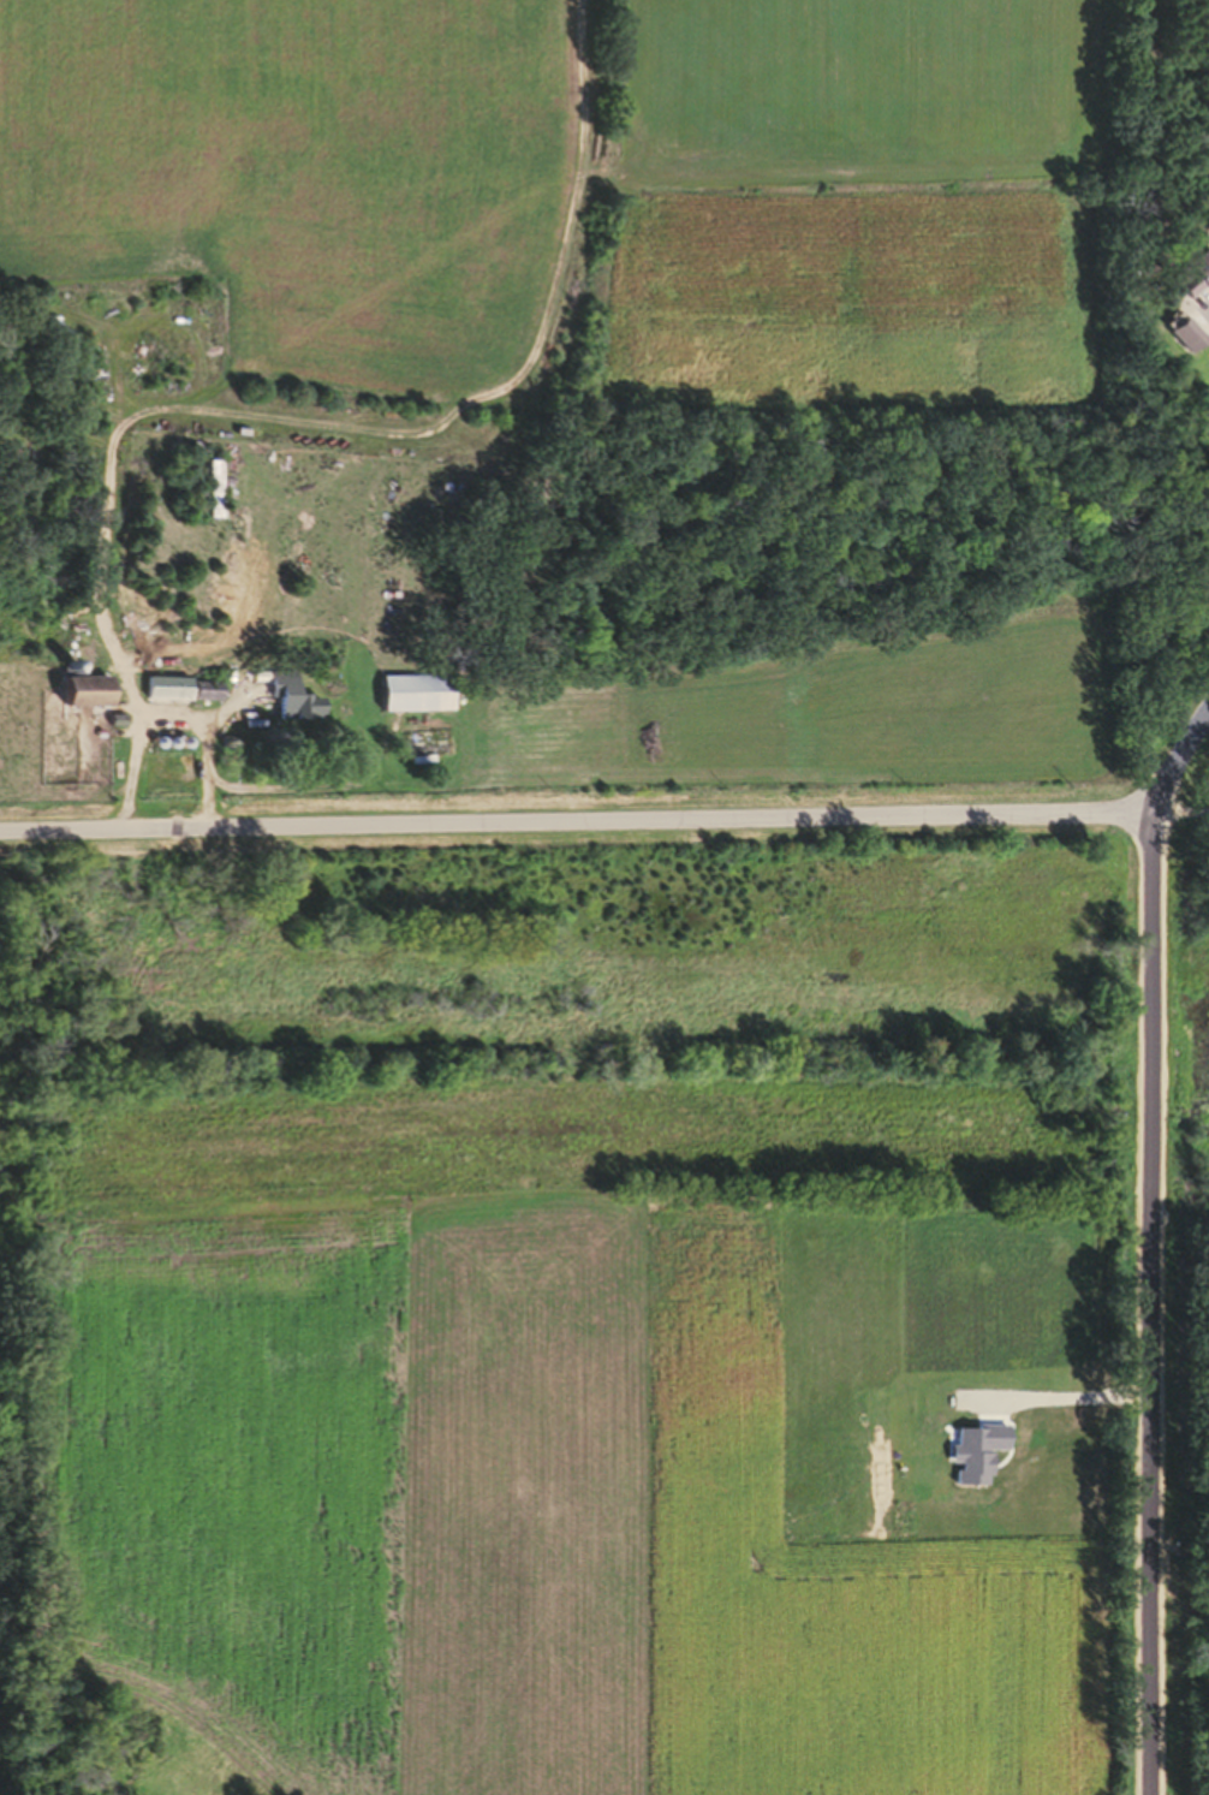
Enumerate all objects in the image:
building: (1181, 344)
building: (209, 499)
building: (183, 699)
building: (415, 702)
building: (82, 707)
building: (293, 711)
building: (424, 753)
road: (1189, 794)
road: (583, 831)
road: (1151, 1240)
crop: (556, 1434)

